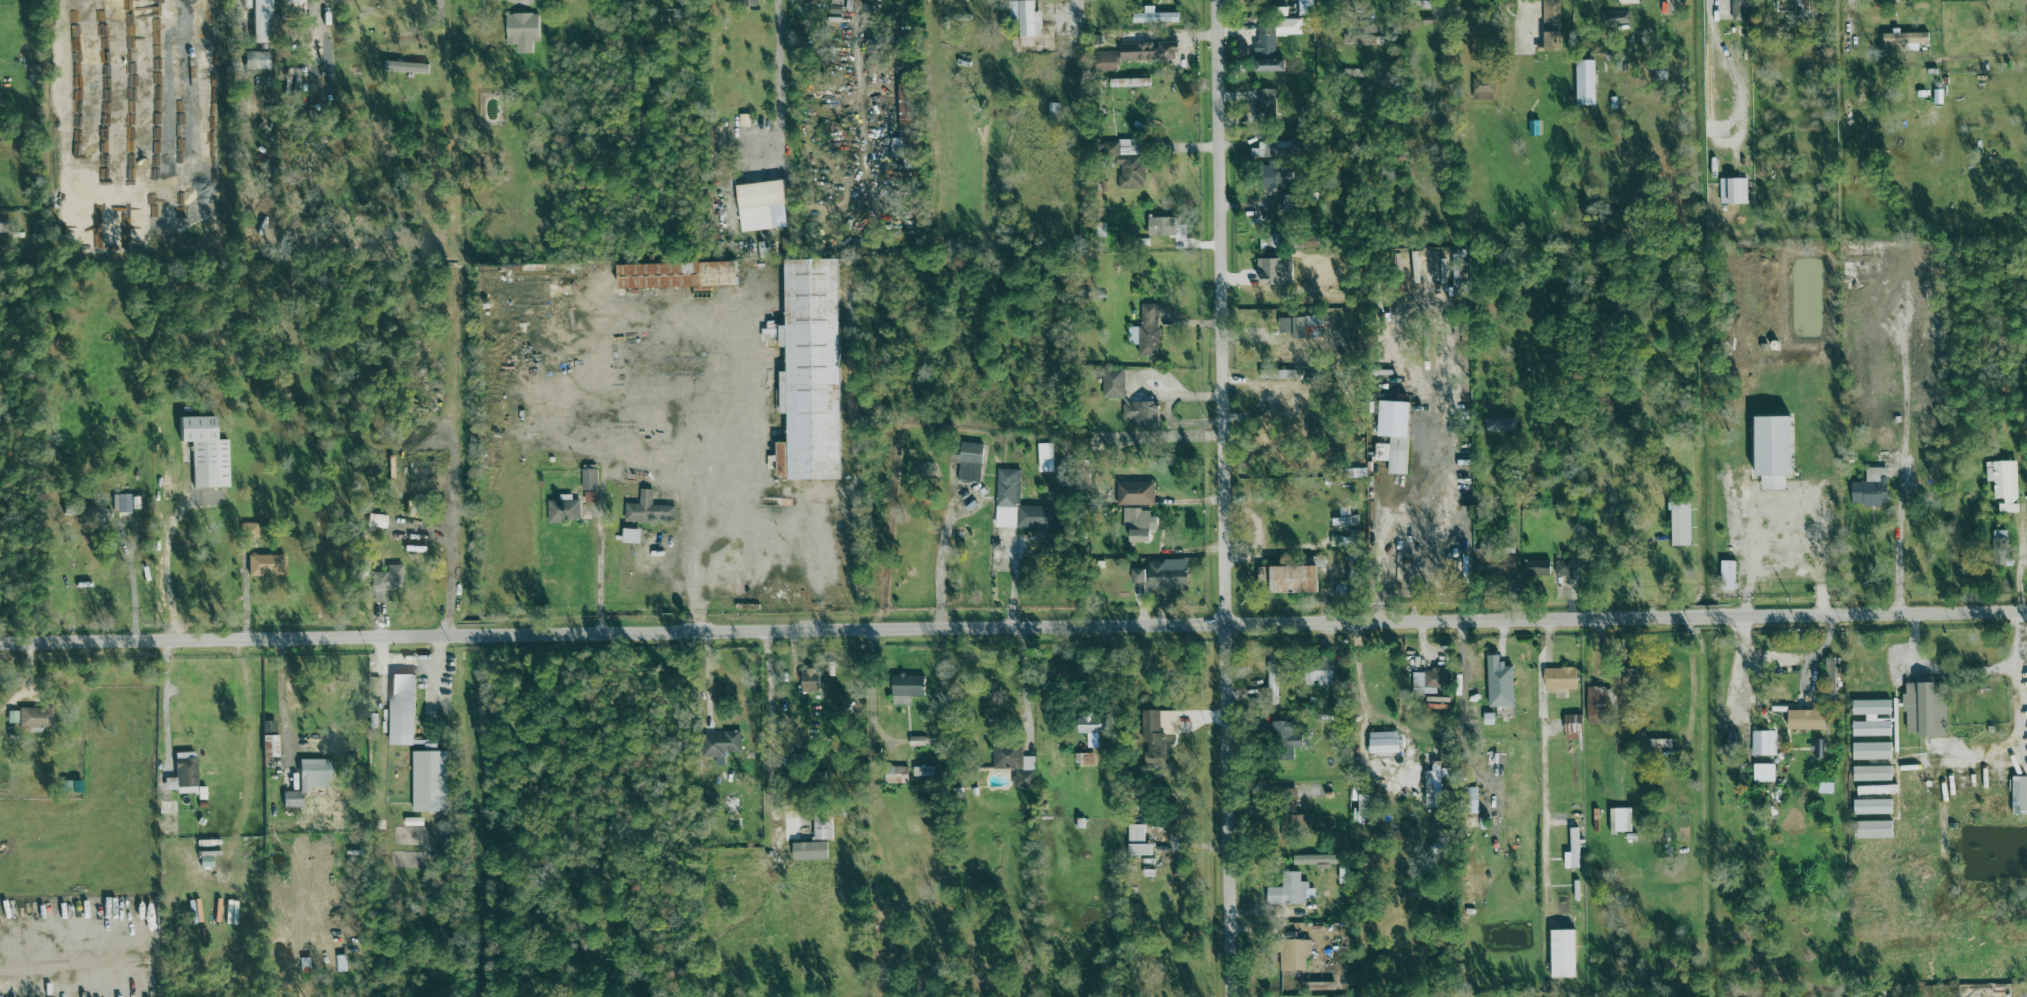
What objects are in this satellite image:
road: (527, 0)
building: (290, 1)
building: (682, 1)
building: (749, 3)
road: (1848, 3)
building: (1306, 7)
road: (1072, 8)
building: (1805, 8)
building: (1740, 10)
road: (440, 12)
road: (1708, 12)
building: (1155, 16)
building: (1620, 17)
building: (1026, 20)
building: (260, 21)
building: (1551, 27)
building: (522, 31)
building: (1906, 39)
building: (1272, 43)
building: (1149, 51)
building: (255, 60)
building: (1106, 61)
building: (405, 67)
road: (866, 69)
road: (778, 73)
building: (1586, 82)
building: (1129, 83)
building: (1484, 89)
building: (1267, 101)
building: (907, 107)
building: (900, 147)
building: (1265, 150)
building: (1125, 162)
building: (1274, 178)
building: (1733, 190)
building: (762, 205)
building: (0, 224)
building: (1164, 226)
building: (1890, 248)
building: (1275, 271)
building: (677, 275)
building: (1303, 327)
building: (1147, 331)
building: (811, 372)
building: (1114, 384)
road: (1906, 389)
building: (1142, 414)
building: (1394, 436)
building: (1774, 451)
building: (205, 452)
building: (1046, 457)
building: (968, 461)
road: (725, 475)
building: (2005, 484)
building: (590, 485)
building: (1872, 488)
building: (1136, 493)
road: (1222, 498)
building: (120, 503)
building: (649, 510)
building: (563, 511)
building: (1033, 517)
building: (1345, 518)
building: (1682, 523)
building: (1139, 525)
road: (947, 529)
building: (248, 530)
building: (631, 536)
building: (2000, 548)
road: (1382, 551)
road: (129, 552)
road: (166, 553)
road: (1598, 557)
road: (1746, 560)
building: (1496, 563)
building: (266, 565)
building: (1537, 568)
building: (1563, 568)
road: (603, 575)
building: (1168, 575)
building: (1138, 576)
building: (1728, 576)
building: (1291, 579)
building: (385, 582)
road: (1013, 628)
road: (1803, 658)
road: (1745, 668)
road: (1941, 671)
building: (1318, 672)
building: (1831, 677)
building: (1560, 678)
building: (811, 680)
road: (1023, 681)
building: (1431, 681)
building: (1273, 683)
building: (1500, 683)
building: (907, 688)
road: (870, 694)
road: (164, 704)
building: (1597, 705)
road: (1462, 706)
building: (1925, 709)
building: (401, 710)
building: (11, 717)
building: (34, 717)
building: (1872, 718)
building: (1807, 720)
building: (1092, 725)
building: (1573, 727)
building: (1159, 731)
road: (770, 732)
building: (268, 739)
building: (1286, 740)
building: (718, 741)
building: (917, 741)
building: (1384, 742)
building: (1660, 743)
building: (1764, 743)
road: (2016, 749)
building: (1872, 751)
building: (1085, 760)
building: (1015, 763)
road: (1543, 771)
building: (1573, 772)
building: (1764, 773)
building: (182, 774)
building: (1873, 774)
building: (896, 775)
building: (307, 780)
building: (430, 780)
building: (1435, 785)
building: (1878, 790)
building: (1287, 794)
building: (2019, 796)
building: (1471, 800)
building: (1873, 807)
building: (1621, 820)
building: (1296, 824)
building: (823, 830)
building: (1873, 830)
building: (1138, 842)
building: (810, 851)
building: (1573, 851)
building: (728, 860)
building: (1314, 861)
building: (1290, 891)
building: (1564, 952)
building: (1294, 953)
building: (341, 963)

